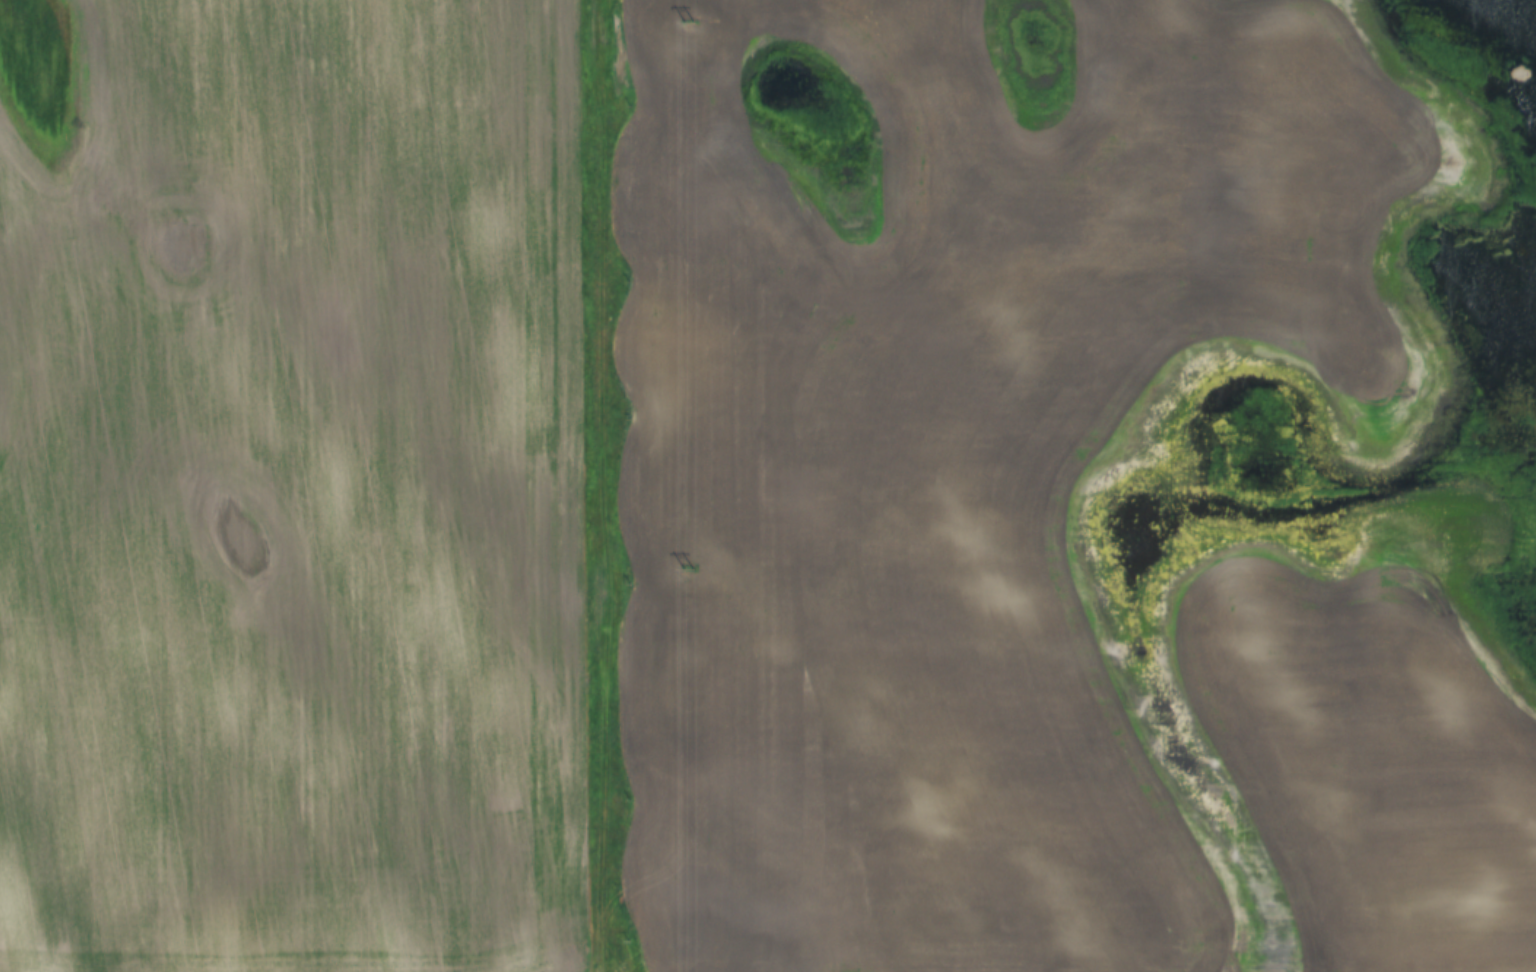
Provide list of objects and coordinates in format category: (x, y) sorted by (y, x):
power tower: (686, 23)
road: (602, 485)
power tower: (685, 567)

